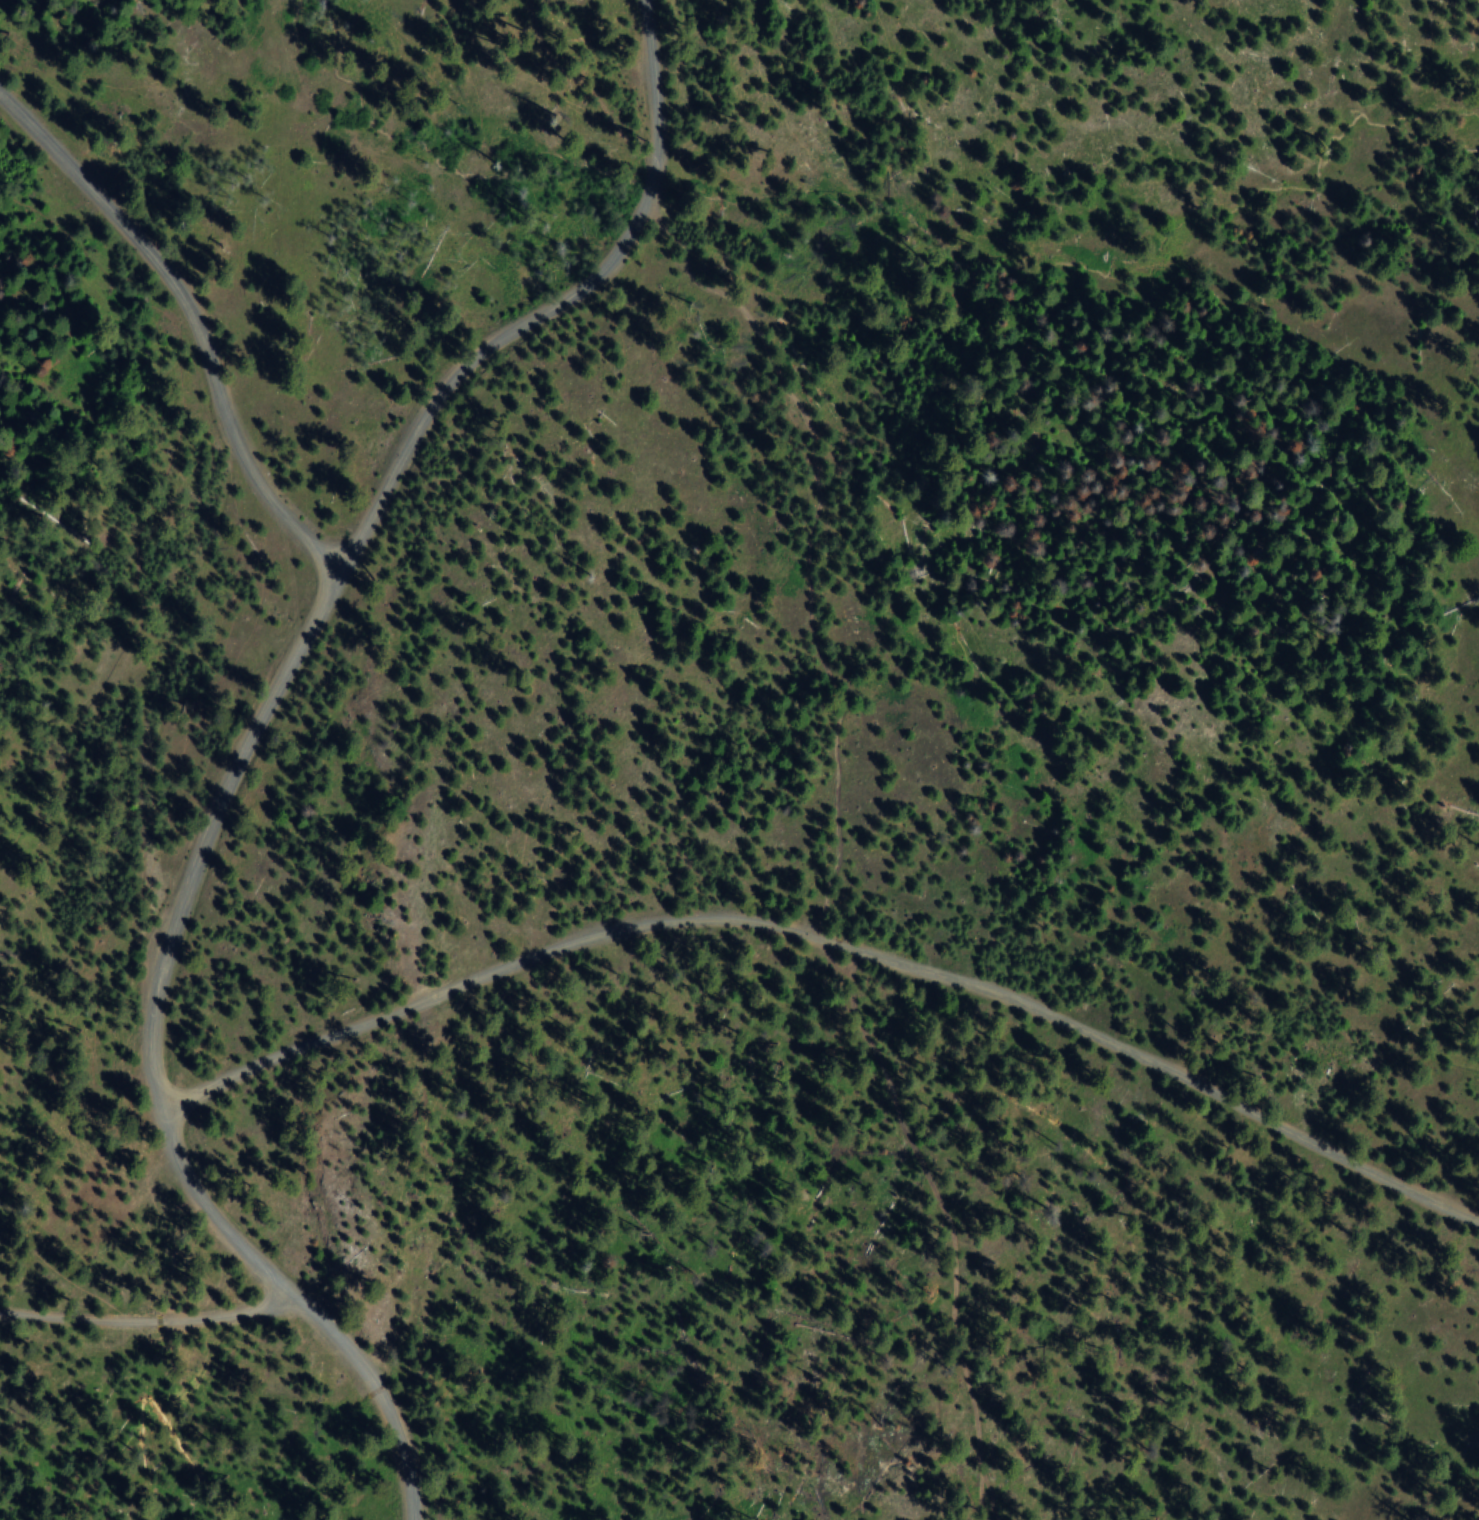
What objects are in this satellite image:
road: (190, 320)
road: (249, 739)
road: (829, 947)
road: (147, 1319)

